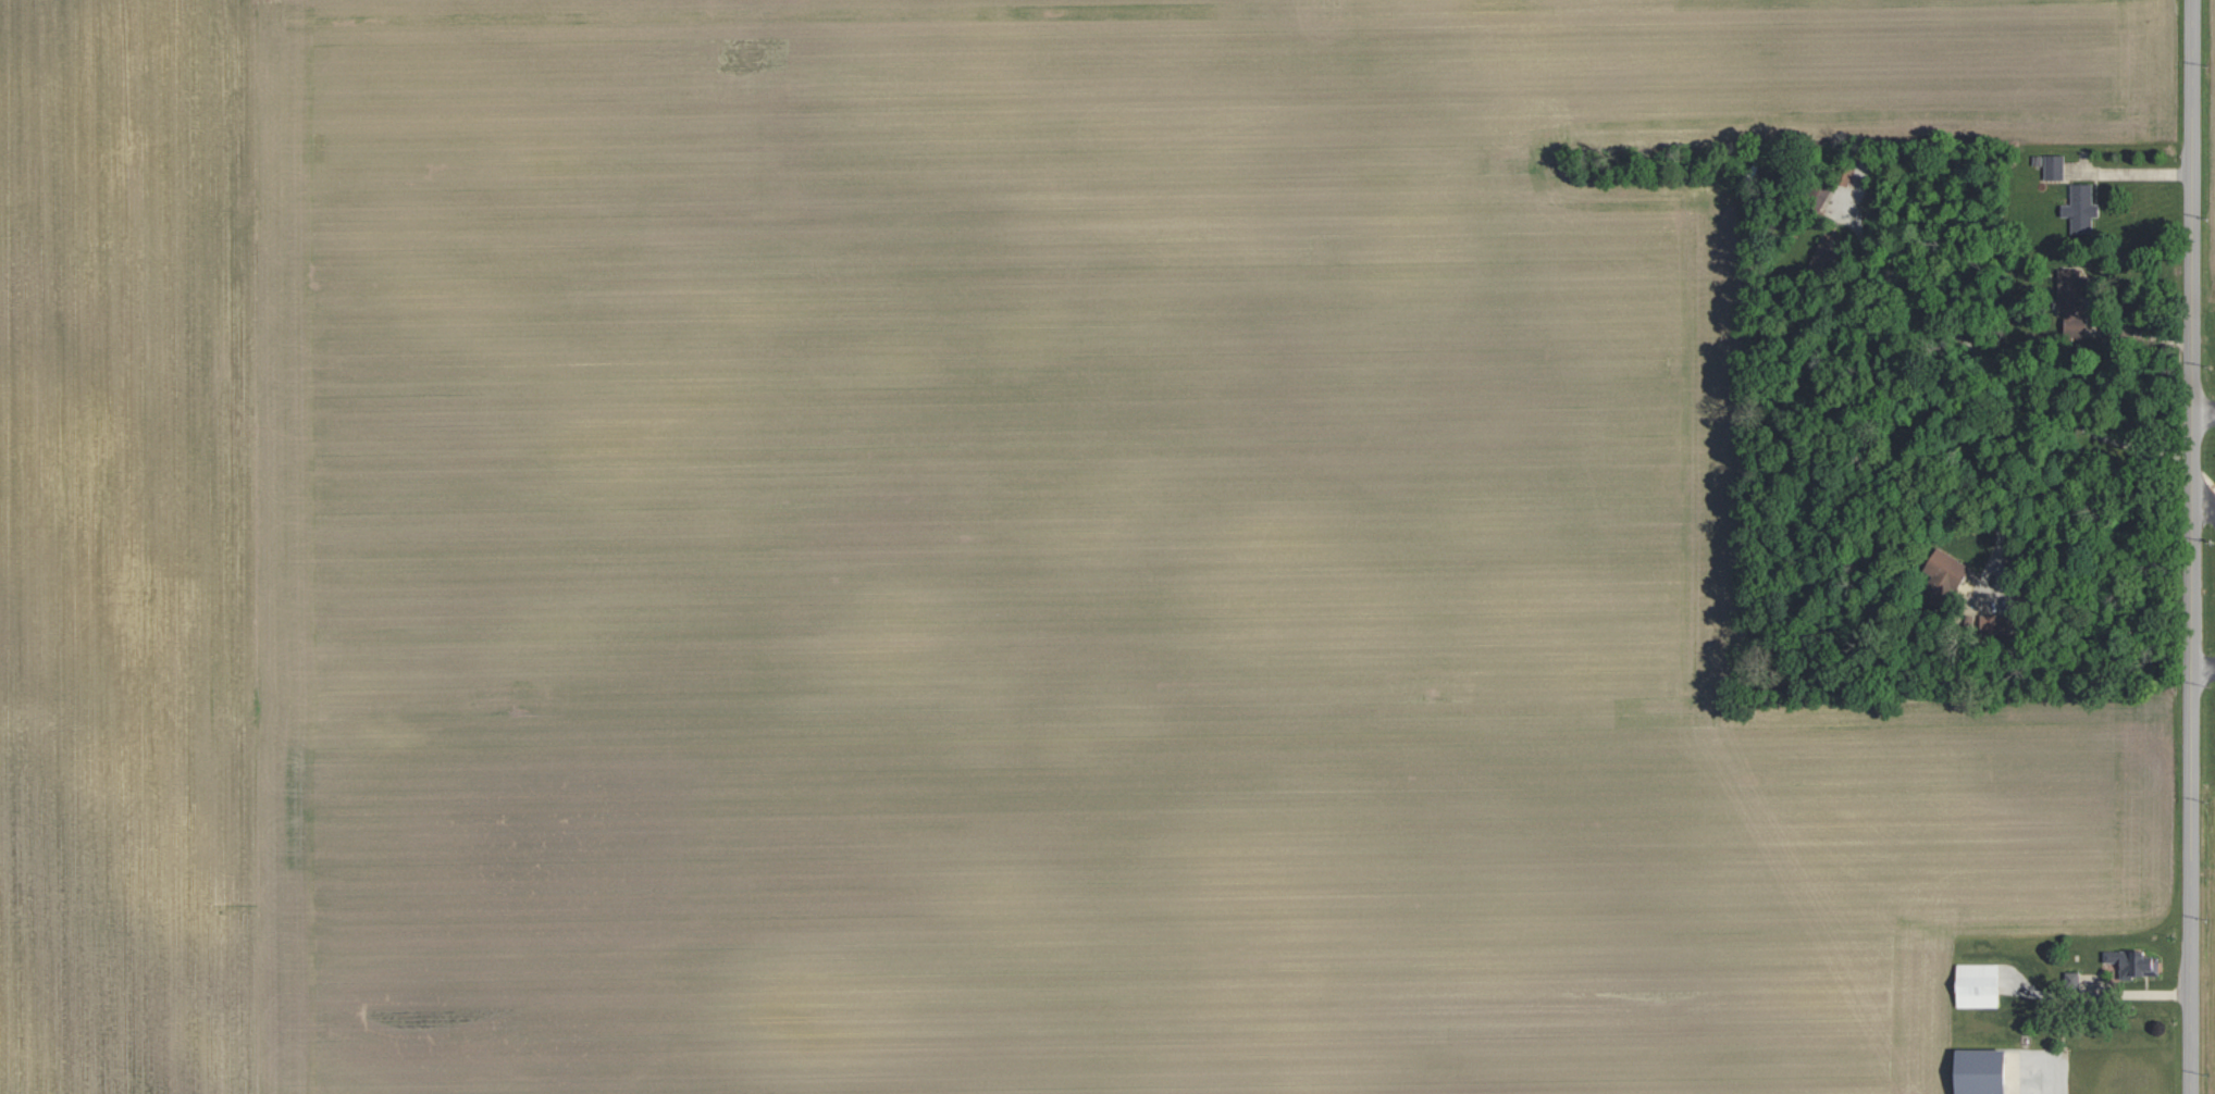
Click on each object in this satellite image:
building: (2054, 166)
building: (2080, 208)
building: (2099, 219)
road: (2204, 511)
road: (2193, 547)
building: (2134, 961)
building: (1979, 984)
road: (2106, 996)
building: (1983, 1070)

